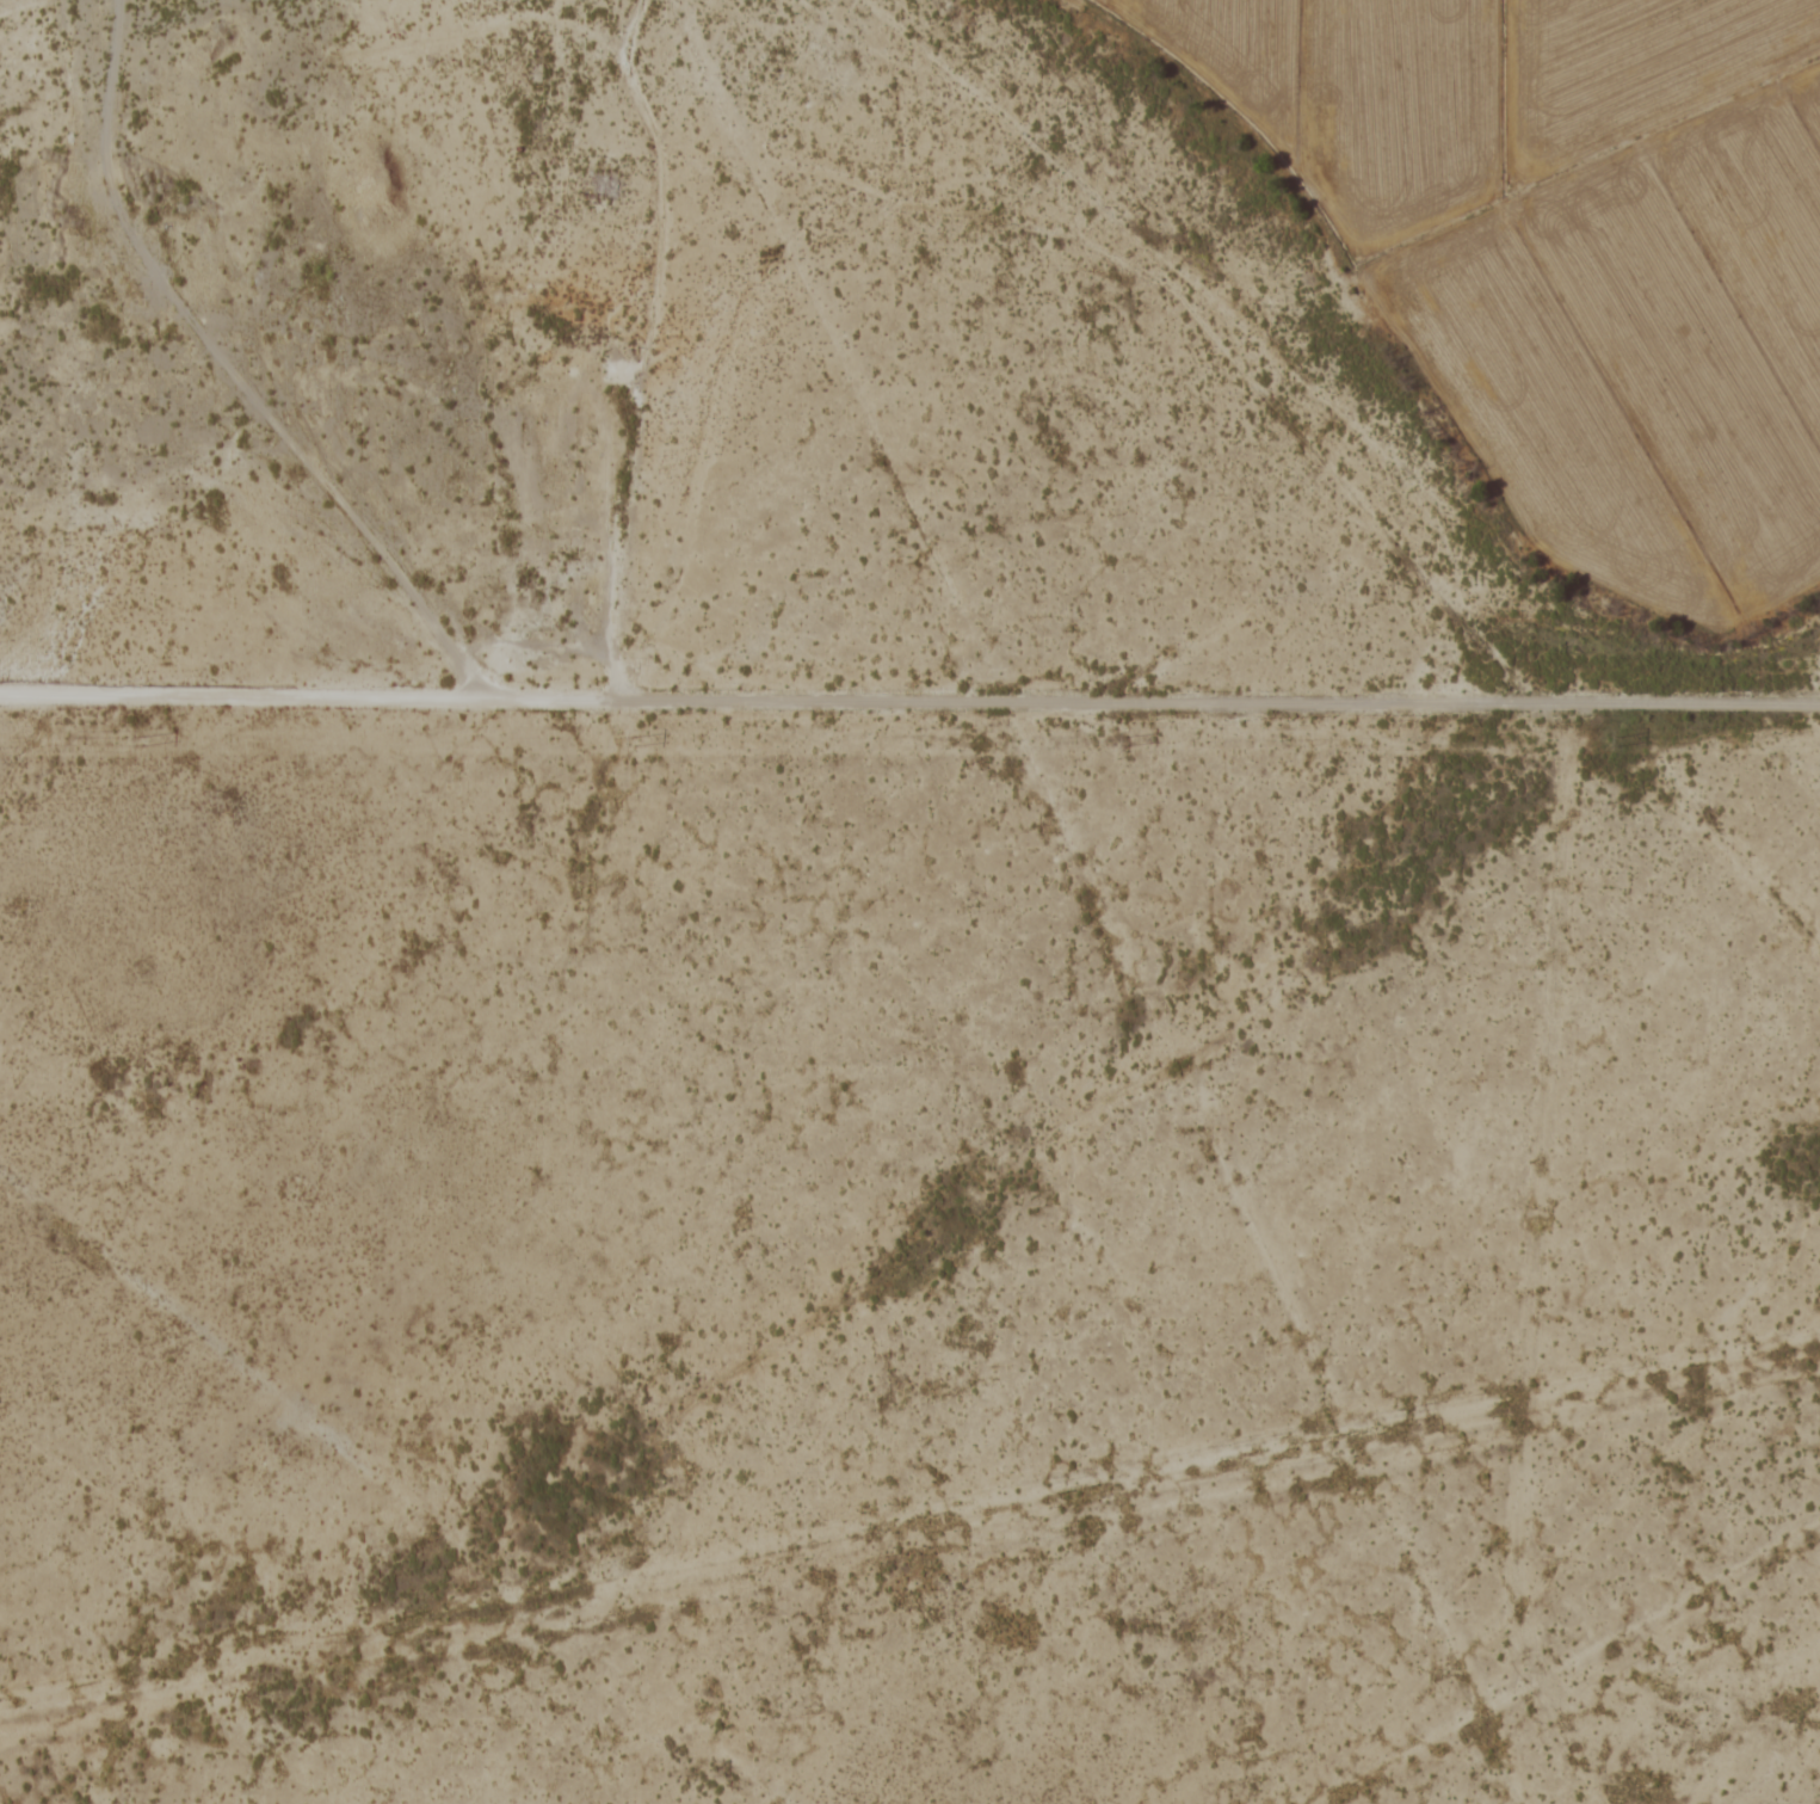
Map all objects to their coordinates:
road: (227, 371)
road: (229, 692)
road: (1140, 697)
power tower: (136, 740)
power tower: (1122, 740)
power tower: (628, 741)
power tower: (1611, 741)

